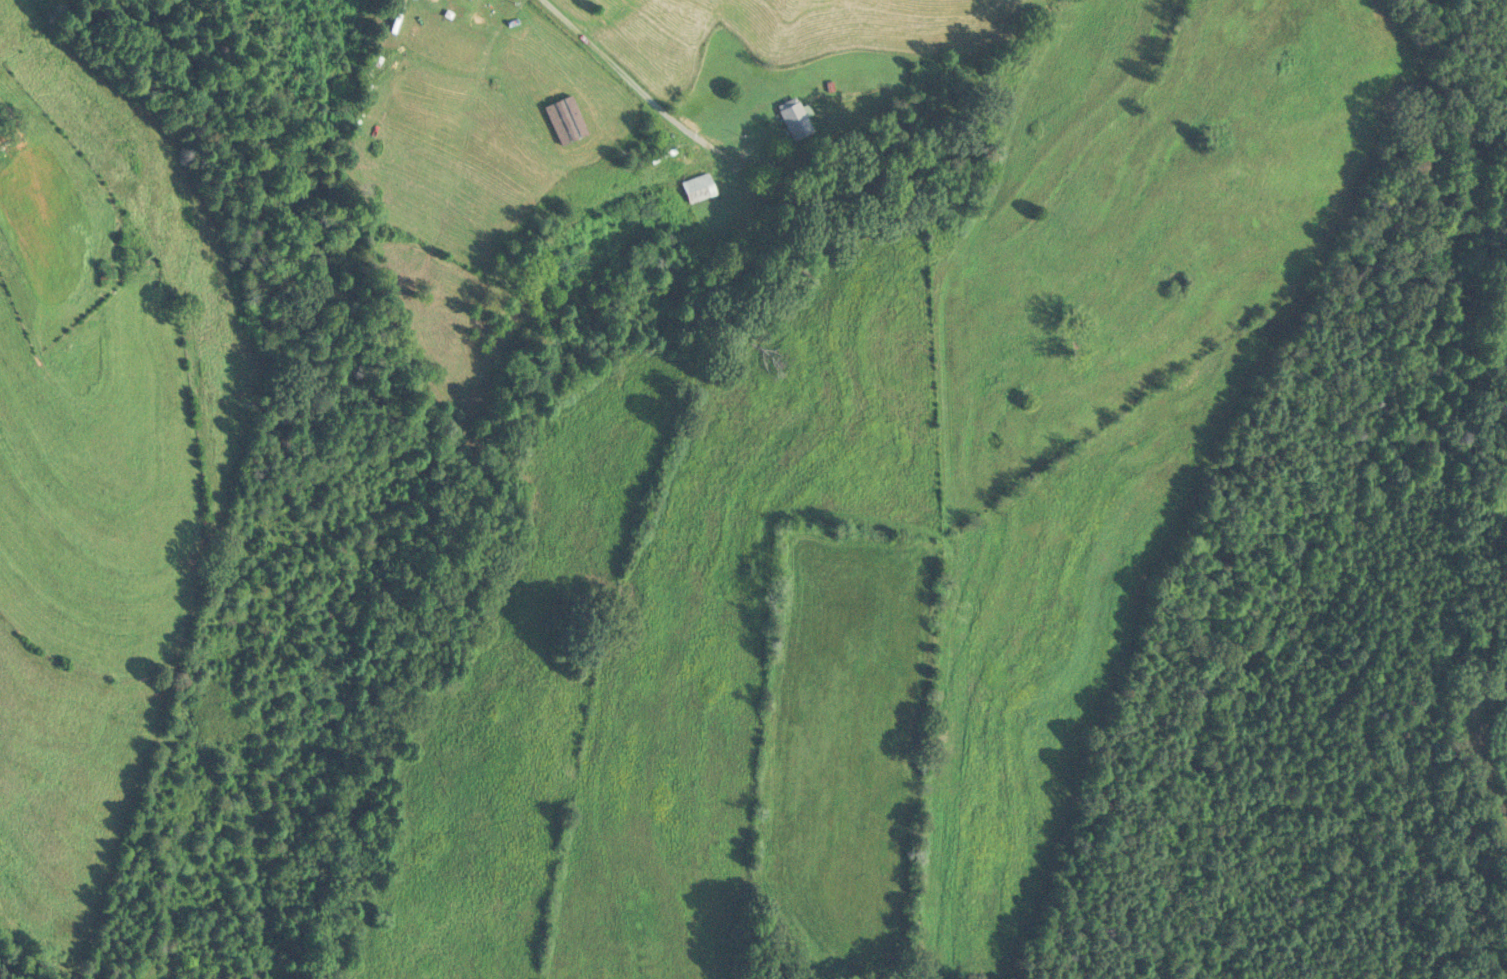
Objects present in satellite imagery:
road: (673, 132)
building: (696, 187)
building: (599, 229)

